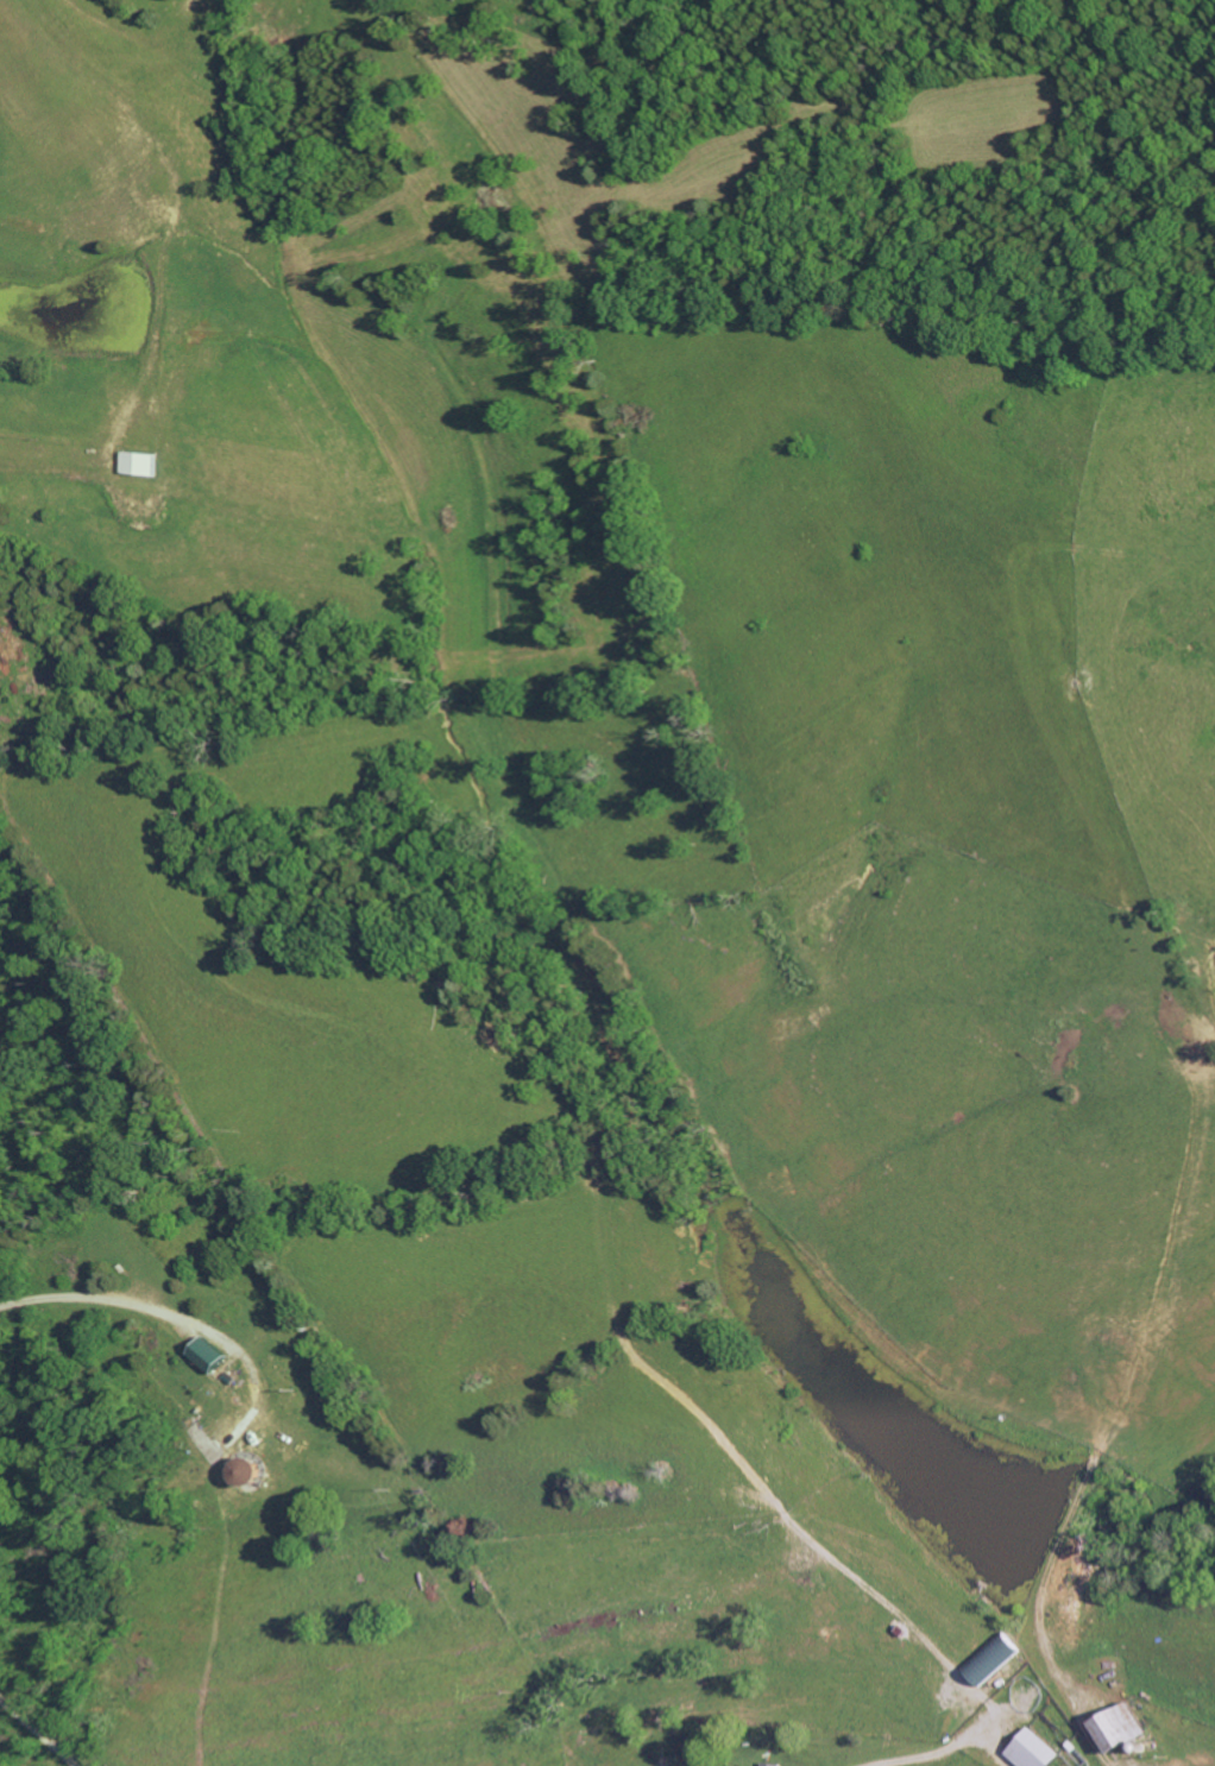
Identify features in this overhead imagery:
road: (124, 1297)
building: (259, 1469)
road: (1065, 1691)
building: (1126, 1727)
road: (34, 1735)
building: (1034, 1749)
road: (909, 1754)
building: (772, 1764)

